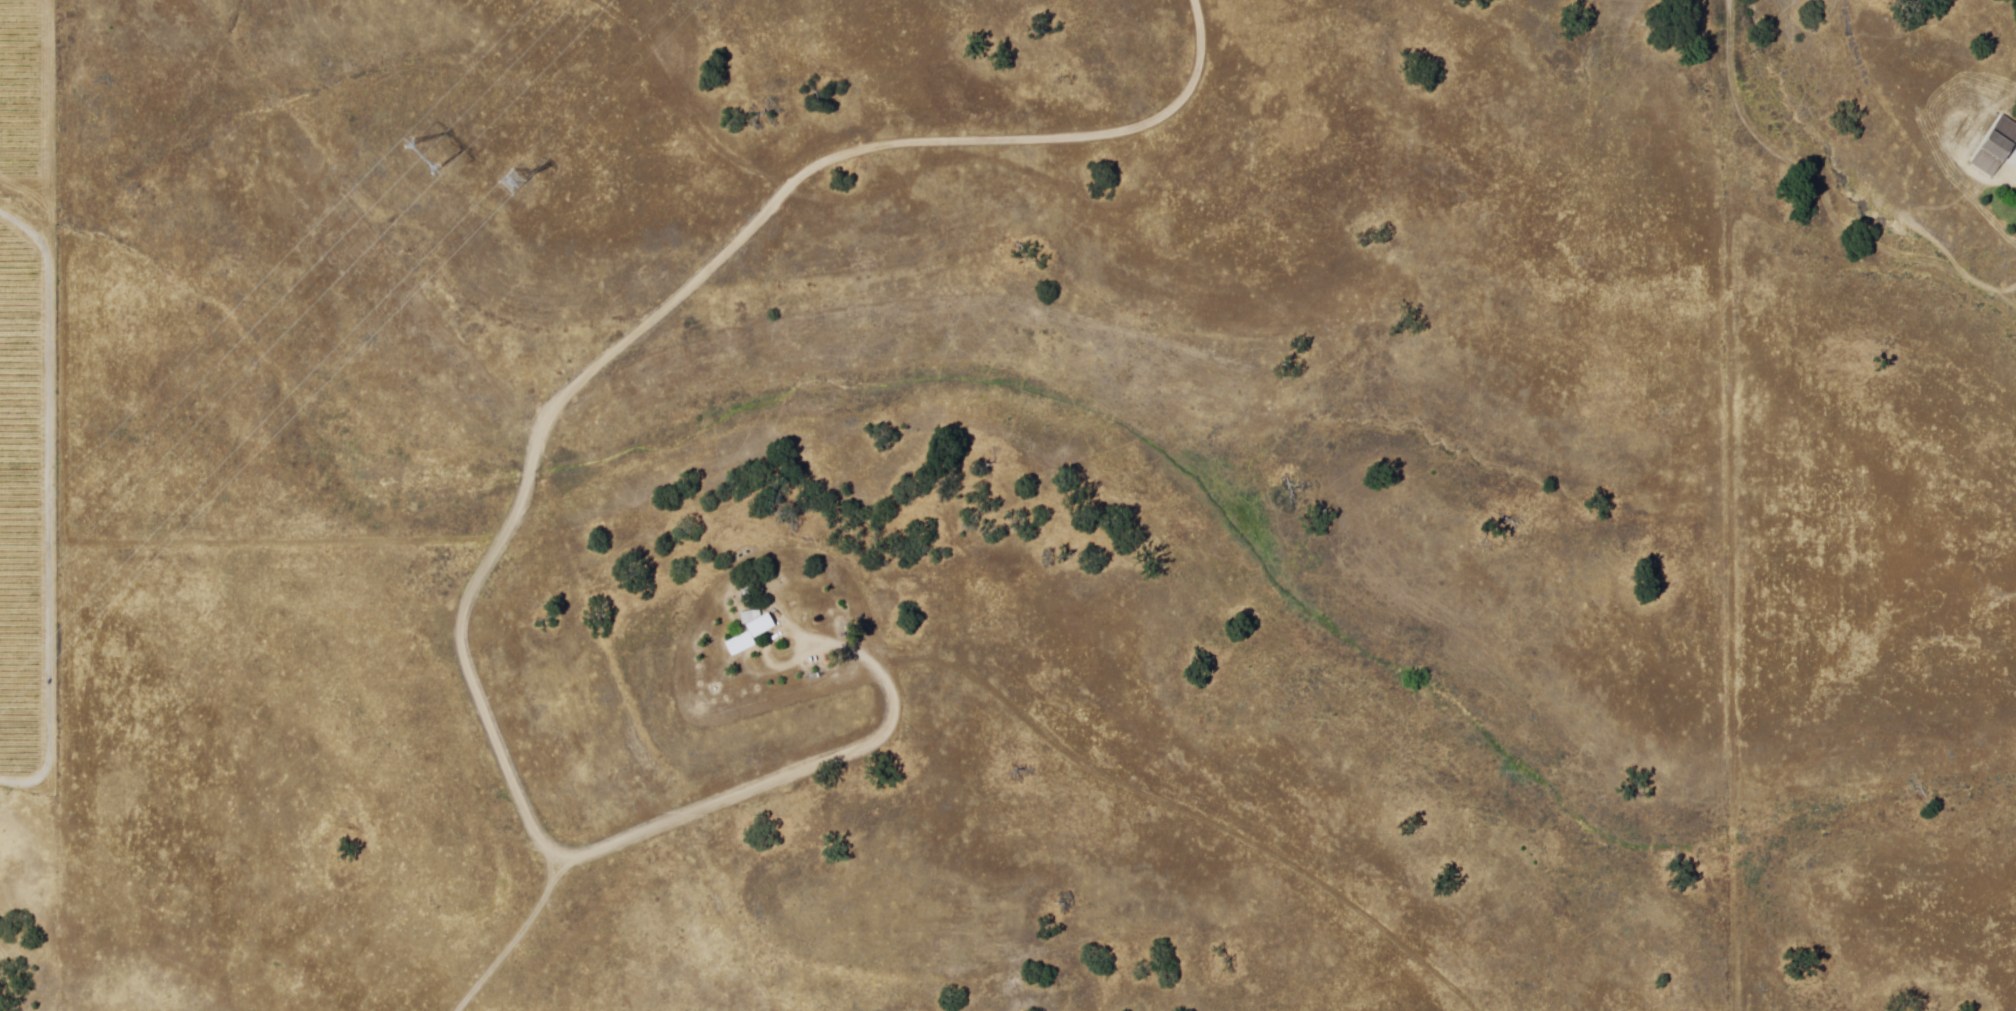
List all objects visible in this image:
building: (1997, 147)
power tower: (423, 163)
power tower: (518, 196)
road: (533, 477)
building: (754, 619)
building: (765, 626)
building: (744, 644)

